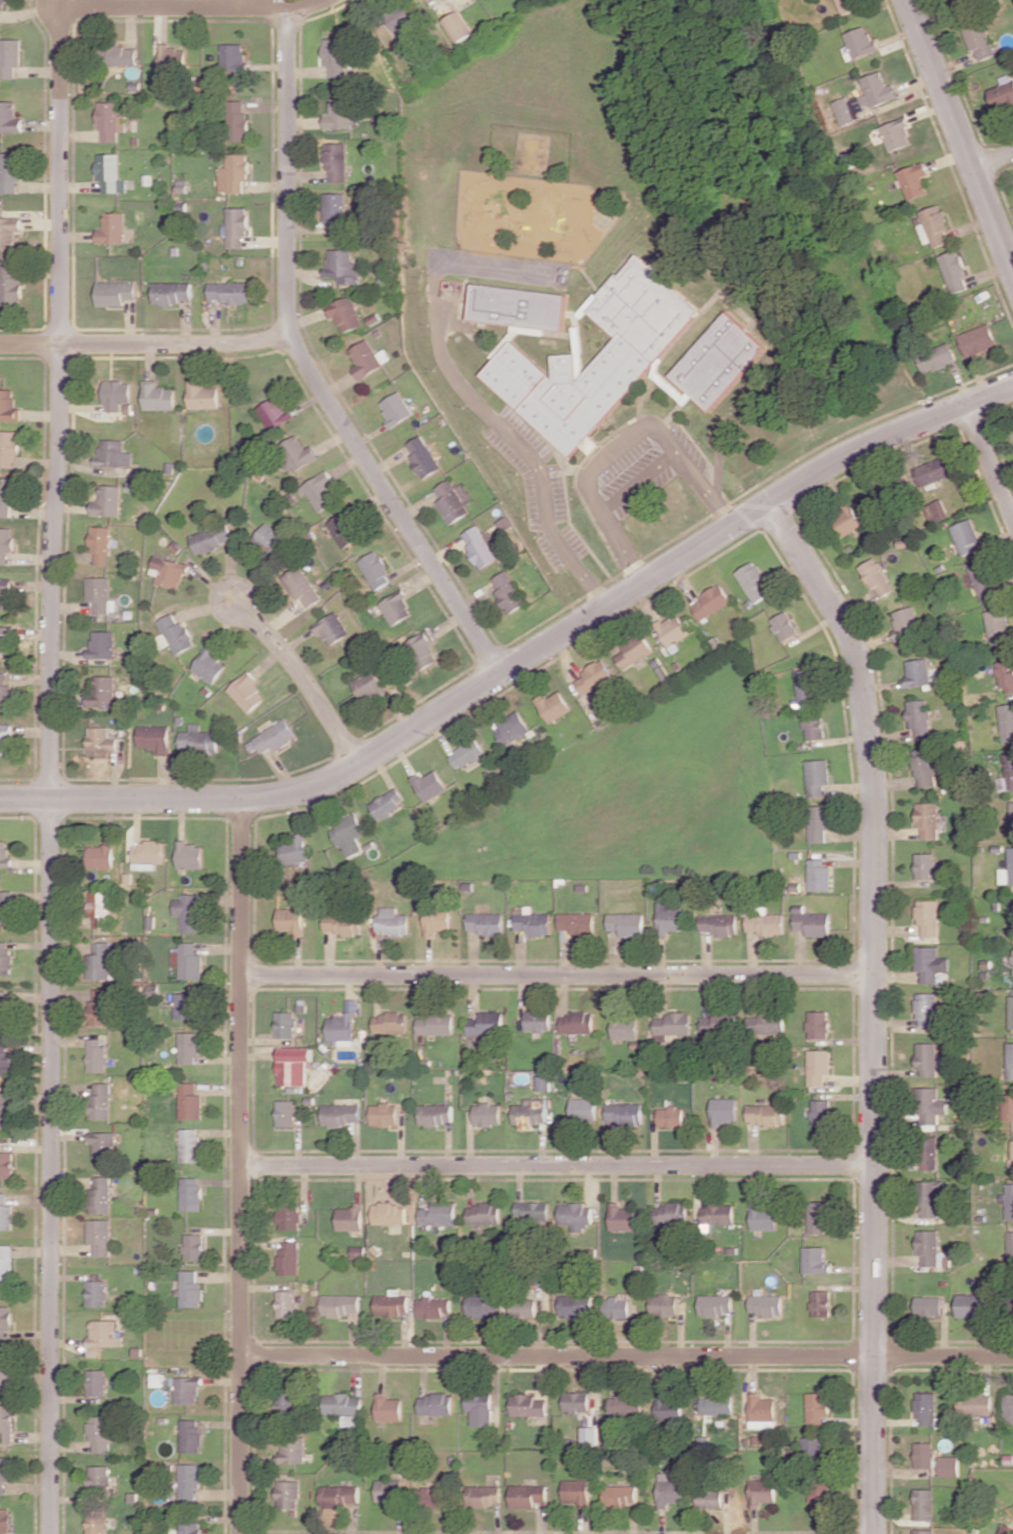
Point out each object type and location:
building: (430, 0)
building: (844, 6)
road: (196, 7)
building: (400, 18)
building: (458, 25)
building: (979, 40)
building: (859, 43)
building: (122, 55)
building: (336, 56)
building: (9, 57)
building: (233, 57)
building: (172, 61)
building: (875, 91)
building: (1002, 94)
building: (339, 114)
building: (9, 117)
building: (237, 120)
building: (110, 121)
building: (897, 134)
road: (960, 134)
road: (993, 159)
building: (336, 161)
building: (9, 172)
building: (111, 173)
building: (234, 173)
building: (914, 180)
building: (335, 211)
building: (935, 226)
building: (237, 227)
building: (112, 228)
building: (9, 238)
building: (342, 266)
building: (954, 271)
building: (11, 285)
building: (229, 291)
building: (115, 292)
building: (171, 292)
building: (523, 307)
building: (345, 313)
building: (978, 339)
road: (146, 343)
building: (605, 356)
building: (937, 357)
building: (368, 358)
building: (727, 360)
road: (307, 365)
road: (464, 390)
building: (116, 394)
building: (203, 395)
building: (158, 396)
building: (9, 406)
building: (396, 408)
building: (274, 413)
building: (9, 447)
road: (619, 447)
building: (297, 453)
building: (113, 454)
building: (423, 456)
road: (989, 460)
building: (934, 470)
road: (640, 485)
building: (322, 491)
building: (7, 495)
building: (108, 501)
building: (451, 502)
building: (937, 510)
building: (847, 521)
building: (346, 529)
building: (967, 536)
building: (213, 539)
building: (271, 539)
building: (6, 544)
building: (101, 544)
building: (479, 546)
building: (376, 570)
building: (170, 571)
building: (876, 577)
building: (983, 580)
building: (753, 581)
building: (301, 585)
building: (5, 590)
building: (508, 591)
building: (100, 593)
building: (710, 602)
building: (396, 607)
building: (906, 618)
building: (784, 626)
building: (998, 627)
building: (332, 628)
building: (673, 629)
building: (178, 633)
building: (4, 642)
building: (104, 644)
building: (423, 649)
building: (632, 651)
road: (523, 657)
building: (210, 665)
building: (917, 672)
building: (1005, 674)
road: (303, 675)
building: (593, 677)
building: (806, 682)
building: (369, 685)
building: (104, 690)
building: (247, 691)
building: (6, 692)
building: (553, 705)
building: (919, 718)
building: (1006, 721)
building: (813, 726)
building: (511, 728)
building: (5, 736)
building: (272, 737)
building: (155, 738)
building: (199, 739)
building: (103, 741)
building: (466, 753)
building: (924, 767)
road: (51, 771)
building: (1007, 775)
building: (816, 776)
building: (430, 784)
park: (612, 803)
building: (386, 804)
building: (927, 819)
building: (1011, 820)
building: (818, 822)
building: (348, 834)
building: (295, 850)
building: (5, 853)
building: (147, 854)
building: (102, 855)
building: (189, 855)
building: (925, 865)
building: (1007, 869)
building: (818, 875)
building: (6, 908)
building: (100, 908)
building: (188, 912)
building: (670, 916)
building: (928, 918)
building: (1011, 919)
building: (291, 920)
building: (392, 921)
building: (436, 921)
building: (577, 922)
building: (485, 923)
building: (627, 923)
building: (813, 923)
building: (345, 924)
building: (719, 924)
building: (766, 924)
building: (6, 957)
building: (100, 960)
building: (188, 960)
building: (1012, 960)
building: (930, 963)
road: (557, 974)
road: (874, 1004)
building: (186, 1005)
building: (100, 1007)
building: (4, 1008)
building: (927, 1009)
building: (1010, 1012)
building: (538, 1020)
building: (390, 1022)
building: (577, 1022)
building: (437, 1023)
building: (487, 1023)
building: (286, 1024)
building: (344, 1024)
building: (766, 1024)
building: (818, 1024)
building: (672, 1025)
building: (719, 1025)
building: (625, 1027)
building: (190, 1047)
building: (97, 1055)
building: (4, 1056)
building: (927, 1058)
building: (1010, 1060)
building: (295, 1065)
building: (819, 1066)
building: (545, 1082)
building: (100, 1101)
building: (190, 1101)
building: (931, 1105)
building: (1008, 1107)
building: (584, 1108)
building: (5, 1110)
building: (724, 1110)
building: (531, 1112)
building: (821, 1112)
building: (287, 1113)
building: (488, 1113)
building: (624, 1113)
building: (341, 1114)
building: (385, 1114)
building: (437, 1114)
building: (766, 1114)
building: (671, 1116)
building: (103, 1143)
building: (191, 1145)
building: (928, 1153)
building: (1012, 1160)
building: (7, 1164)
road: (557, 1164)
road: (241, 1165)
building: (191, 1193)
building: (101, 1194)
building: (930, 1198)
building: (1010, 1201)
building: (533, 1210)
building: (6, 1213)
building: (390, 1213)
building: (485, 1213)
building: (671, 1213)
building: (718, 1213)
building: (440, 1214)
building: (577, 1215)
building: (289, 1216)
building: (623, 1217)
building: (764, 1217)
building: (819, 1217)
building: (350, 1218)
building: (100, 1236)
building: (1010, 1245)
building: (194, 1246)
building: (928, 1247)
building: (289, 1258)
building: (815, 1260)
building: (6, 1263)
building: (190, 1288)
building: (97, 1293)
building: (287, 1303)
building: (821, 1303)
building: (341, 1304)
building: (392, 1304)
building: (766, 1304)
building: (483, 1305)
building: (576, 1305)
building: (617, 1305)
building: (664, 1305)
building: (716, 1305)
building: (928, 1305)
building: (972, 1305)
building: (434, 1306)
building: (523, 1307)
building: (5, 1320)
building: (103, 1336)
road: (626, 1355)
building: (5, 1373)
building: (97, 1382)
building: (186, 1388)
building: (577, 1401)
building: (286, 1403)
building: (436, 1404)
building: (718, 1404)
building: (975, 1404)
building: (528, 1405)
building: (345, 1407)
building: (389, 1407)
building: (626, 1407)
building: (818, 1407)
building: (480, 1408)
building: (926, 1408)
building: (1009, 1408)
building: (670, 1409)
building: (763, 1411)
building: (6, 1423)
building: (99, 1432)
building: (190, 1435)
building: (590, 1435)
building: (812, 1448)
building: (293, 1451)
building: (924, 1454)
building: (949, 1465)
building: (5, 1472)
building: (99, 1476)
building: (189, 1480)
building: (389, 1490)
building: (669, 1490)
building: (763, 1491)
building: (576, 1492)
building: (819, 1493)
building: (289, 1494)
building: (340, 1494)
building: (484, 1495)
building: (527, 1495)
building: (620, 1495)
building: (433, 1497)
building: (710, 1499)
building: (924, 1504)
building: (5, 1520)
building: (97, 1522)
building: (189, 1528)
building: (1006, 1529)
building: (924, 1531)

